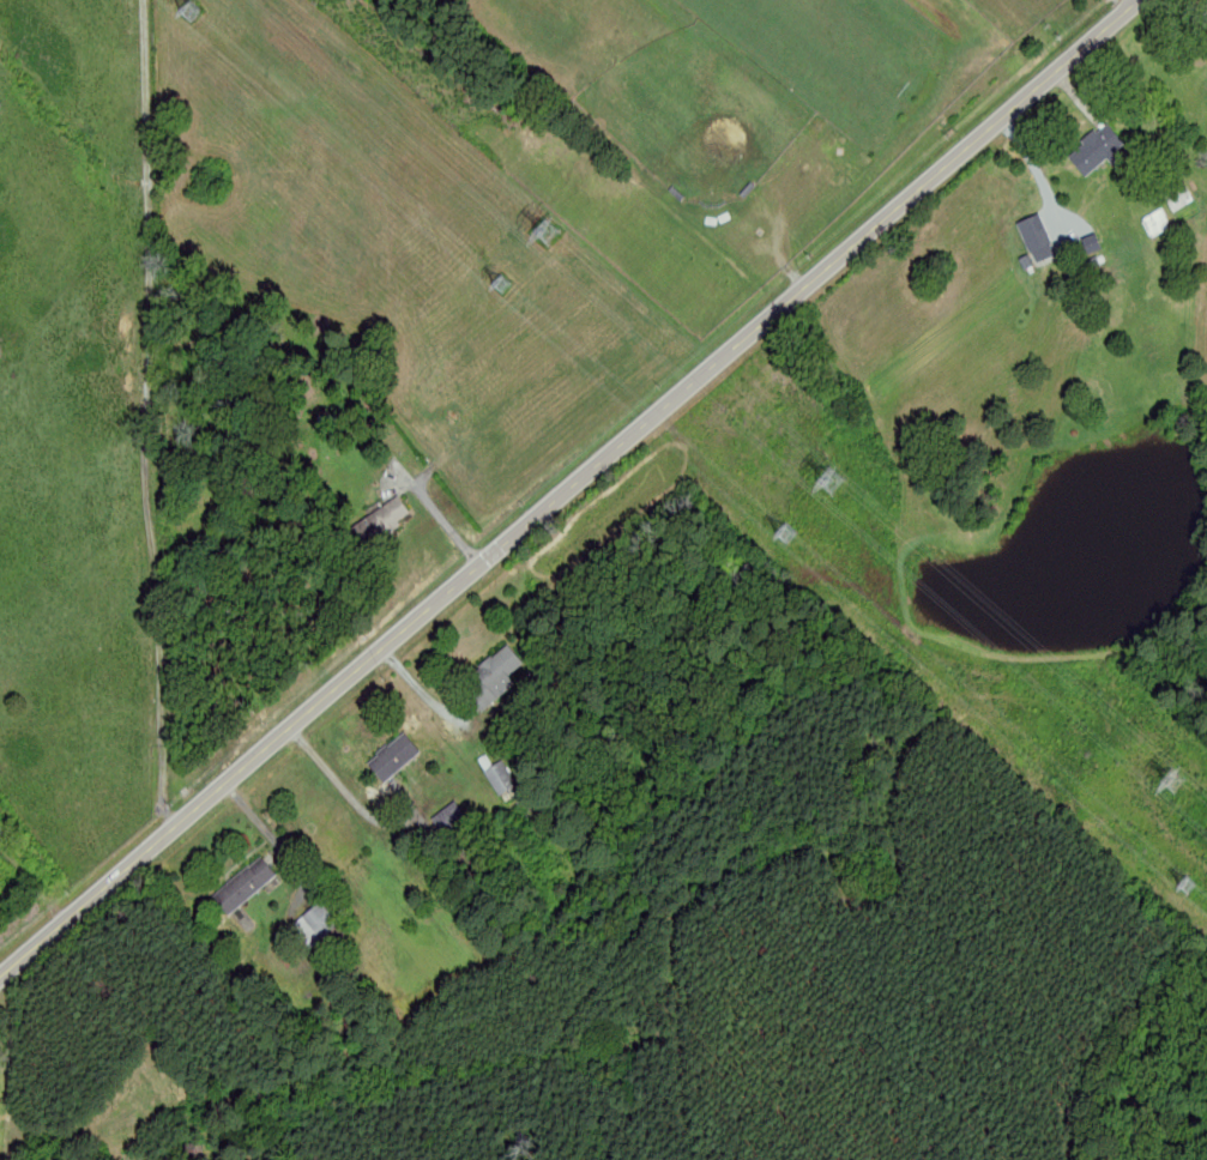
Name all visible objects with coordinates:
power tower: (193, 16)
park: (833, 50)
park: (698, 114)
building: (1096, 150)
road: (1032, 165)
building: (1175, 195)
building: (1153, 222)
power tower: (553, 234)
building: (1037, 235)
building: (1091, 243)
power tower: (505, 284)
power tower: (833, 485)
road: (568, 488)
road: (440, 514)
building: (378, 522)
power tower: (787, 534)
building: (490, 677)
building: (390, 757)
building: (497, 778)
power tower: (1175, 785)
building: (448, 821)
power tower: (1188, 883)
building: (241, 886)
building: (318, 922)

